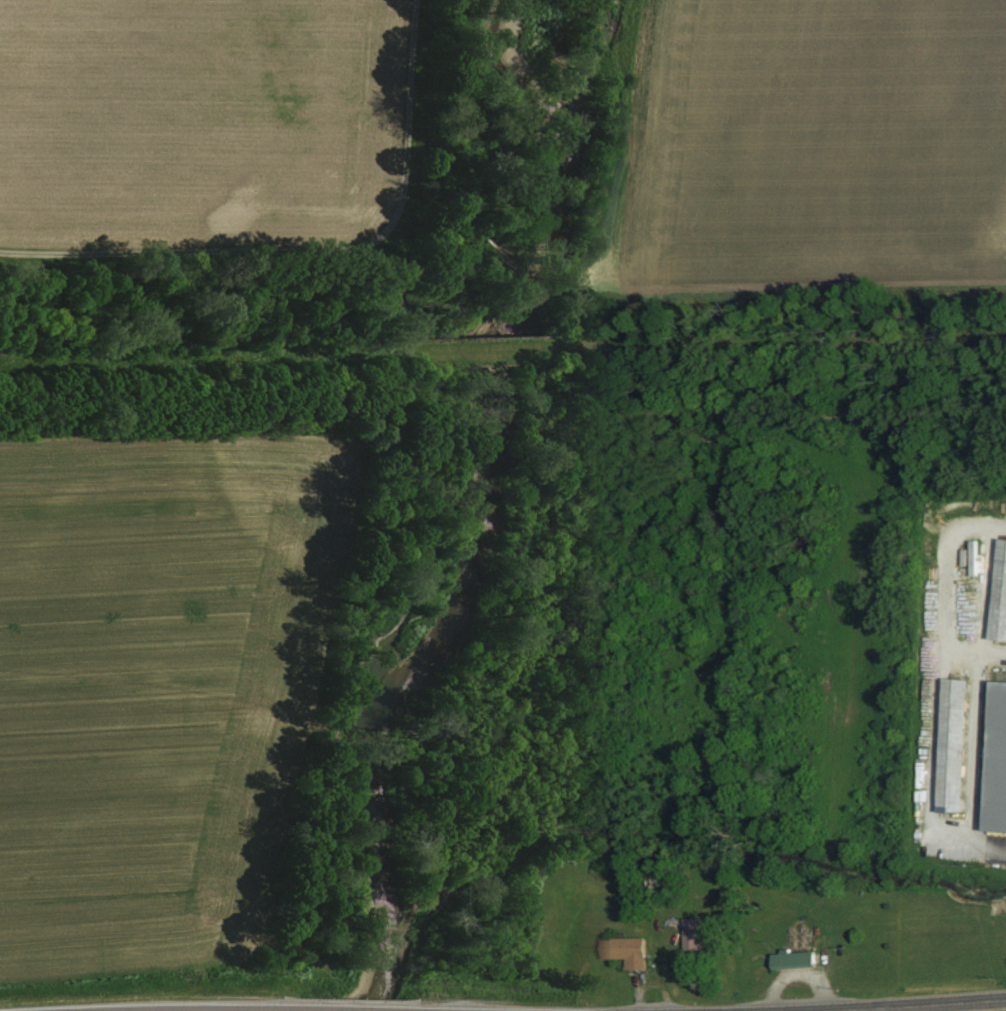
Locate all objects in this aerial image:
building: (1000, 595)
building: (953, 732)
road: (972, 756)
building: (997, 762)
building: (921, 775)
building: (692, 934)
building: (626, 952)
building: (794, 960)
road: (981, 1009)

